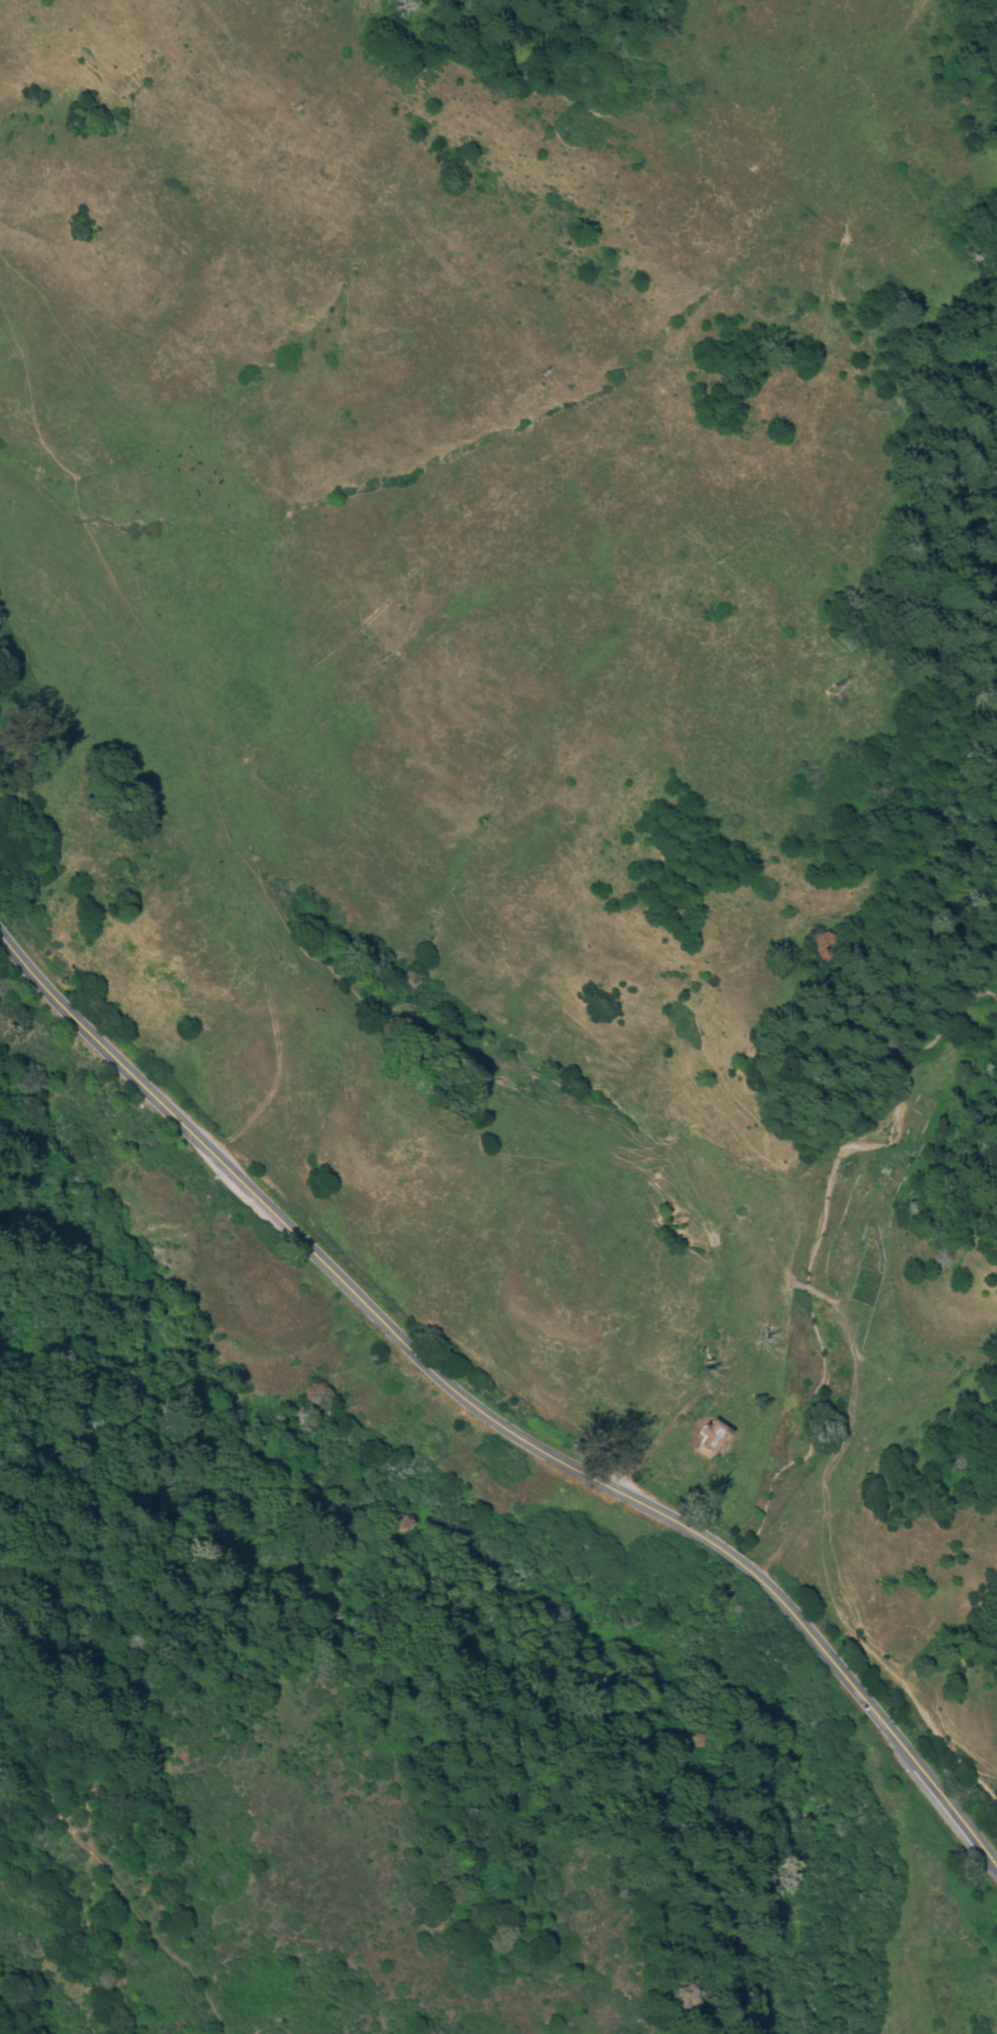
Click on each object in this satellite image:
road: (455, 532)
road: (102, 1048)
road: (622, 1496)
road: (107, 1870)

